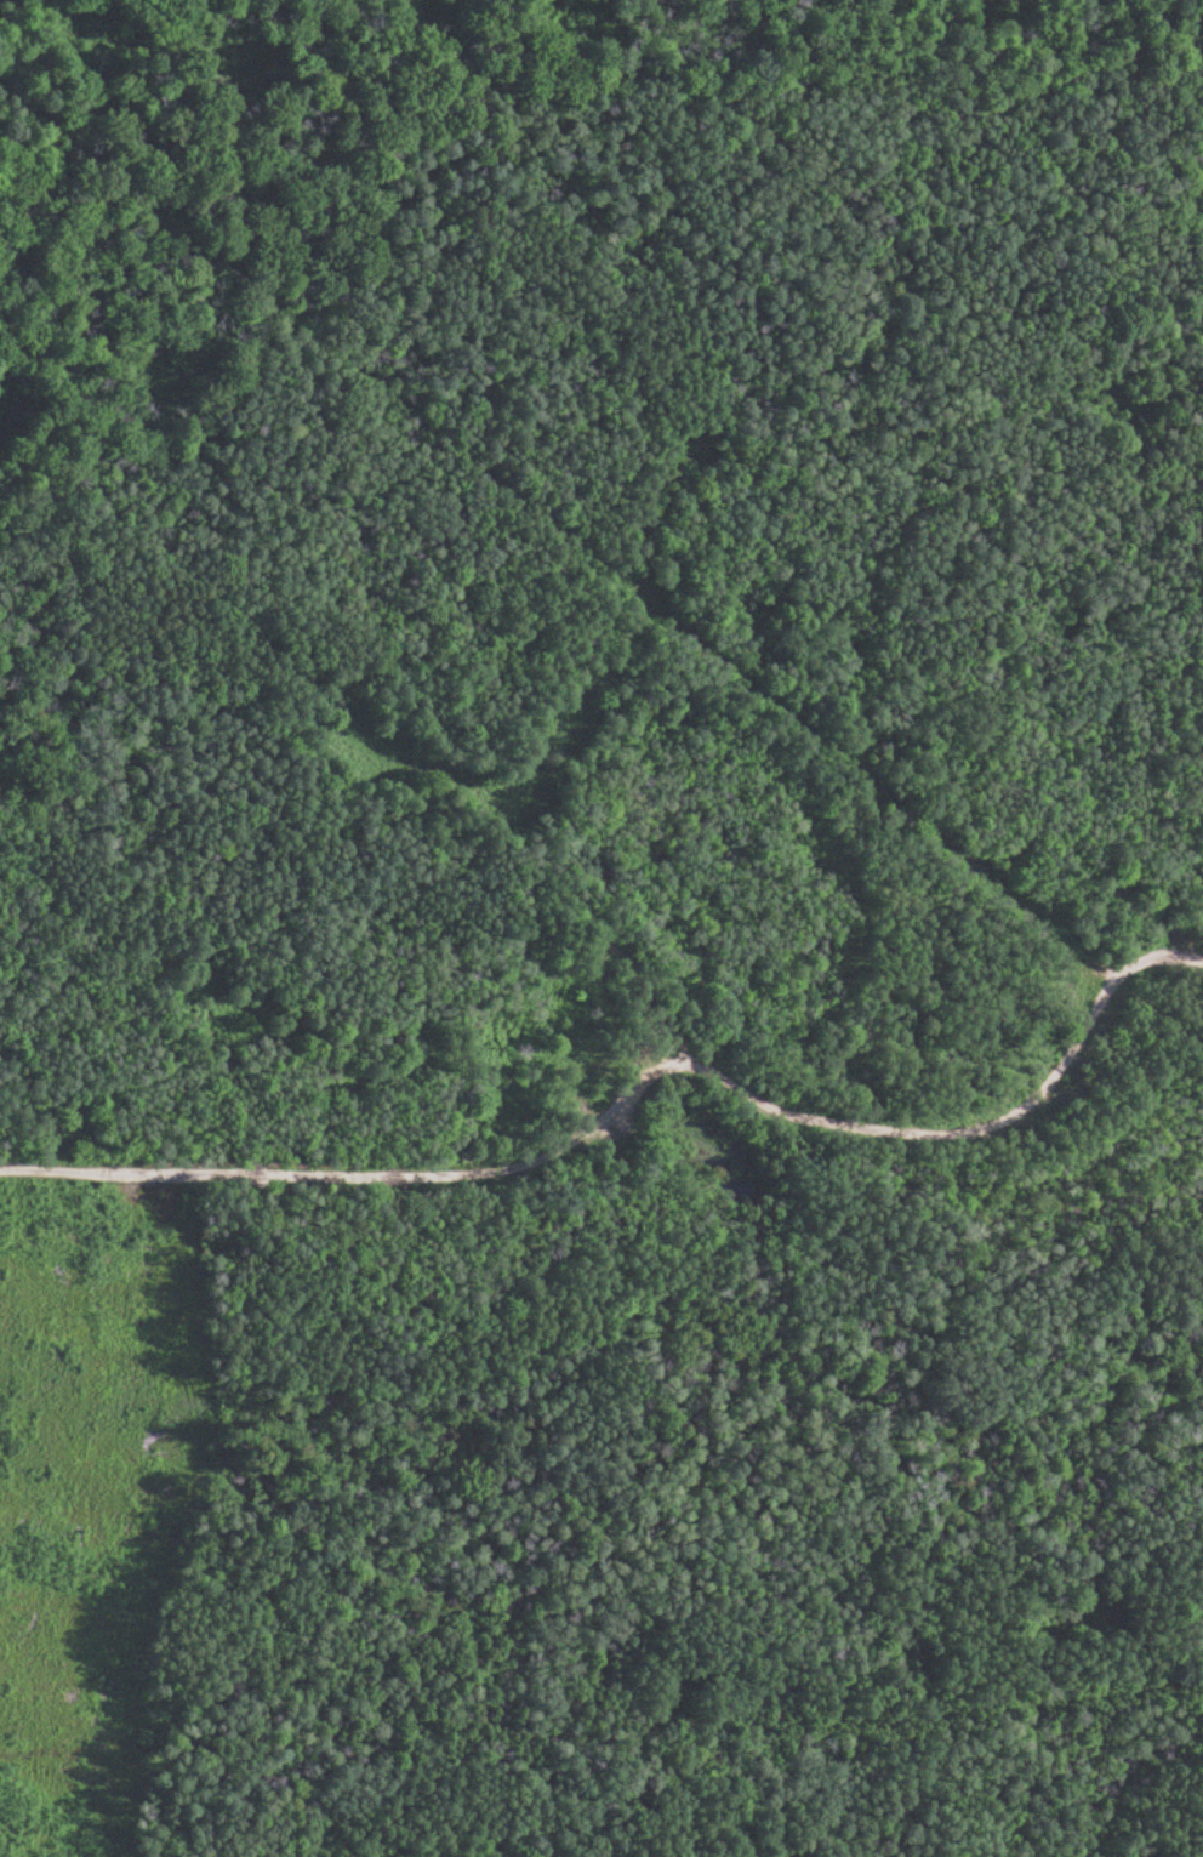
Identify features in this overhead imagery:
road: (1184, 25)
road: (946, 1050)
road: (1036, 1050)

